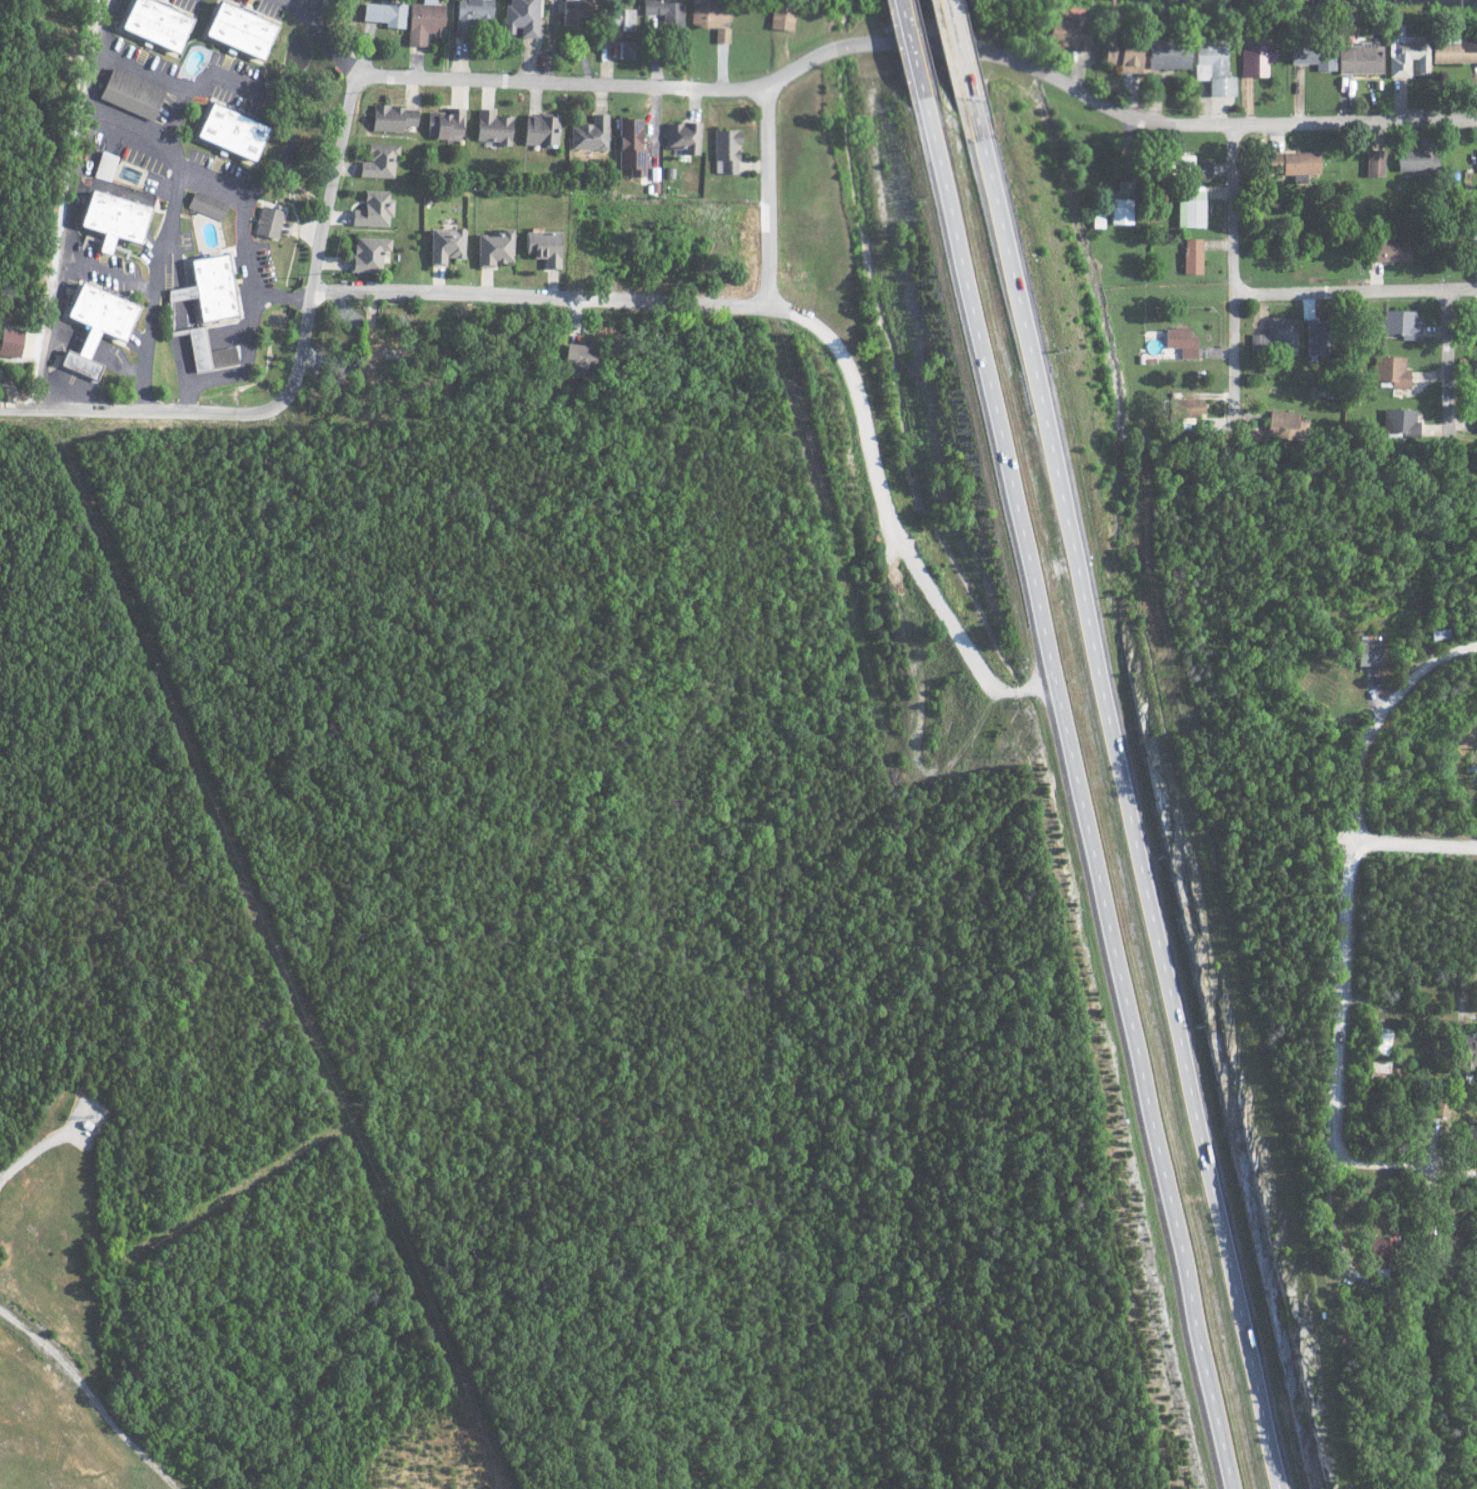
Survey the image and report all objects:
road: (298, 7)
building: (573, 11)
building: (382, 12)
building: (711, 13)
building: (470, 14)
building: (783, 16)
building: (519, 17)
building: (618, 17)
building: (421, 20)
building: (152, 21)
building: (1070, 32)
building: (723, 33)
road: (925, 43)
road: (327, 44)
building: (625, 49)
building: (1122, 50)
building: (1454, 50)
road: (912, 51)
building: (1168, 54)
building: (1313, 55)
building: (1358, 57)
building: (1255, 58)
building: (1407, 58)
building: (1212, 65)
road: (961, 72)
building: (129, 92)
building: (391, 117)
building: (444, 123)
building: (491, 126)
building: (539, 128)
building: (227, 129)
building: (589, 133)
building: (682, 135)
building: (630, 145)
building: (726, 149)
building: (378, 159)
building: (1416, 159)
building: (1292, 161)
building: (1374, 161)
building: (104, 165)
building: (1188, 166)
road: (340, 180)
road: (771, 196)
building: (1122, 203)
road: (70, 204)
building: (206, 205)
building: (1191, 207)
building: (373, 209)
building: (110, 217)
building: (268, 221)
building: (1098, 221)
road: (168, 224)
road: (246, 233)
building: (444, 244)
building: (491, 246)
building: (541, 246)
building: (1388, 248)
building: (368, 253)
building: (1192, 255)
road: (1238, 279)
building: (207, 286)
road: (1358, 290)
road: (804, 316)
building: (1476, 321)
building: (1402, 322)
building: (92, 324)
building: (1278, 335)
building: (376, 336)
building: (9, 341)
building: (1181, 341)
building: (207, 351)
building: (580, 354)
road: (241, 362)
road: (1454, 364)
building: (368, 367)
building: (1392, 371)
building: (1184, 407)
road: (207, 413)
building: (1402, 422)
building: (1284, 423)
road: (1052, 568)
building: (1366, 653)
road: (1080, 795)
road: (1132, 816)
road: (1418, 835)
road: (1350, 910)
road: (1411, 944)
building: (1382, 1040)
building: (1468, 1051)
building: (1376, 1069)
building: (1469, 1133)
building: (1374, 1247)
airport: (42, 1465)

